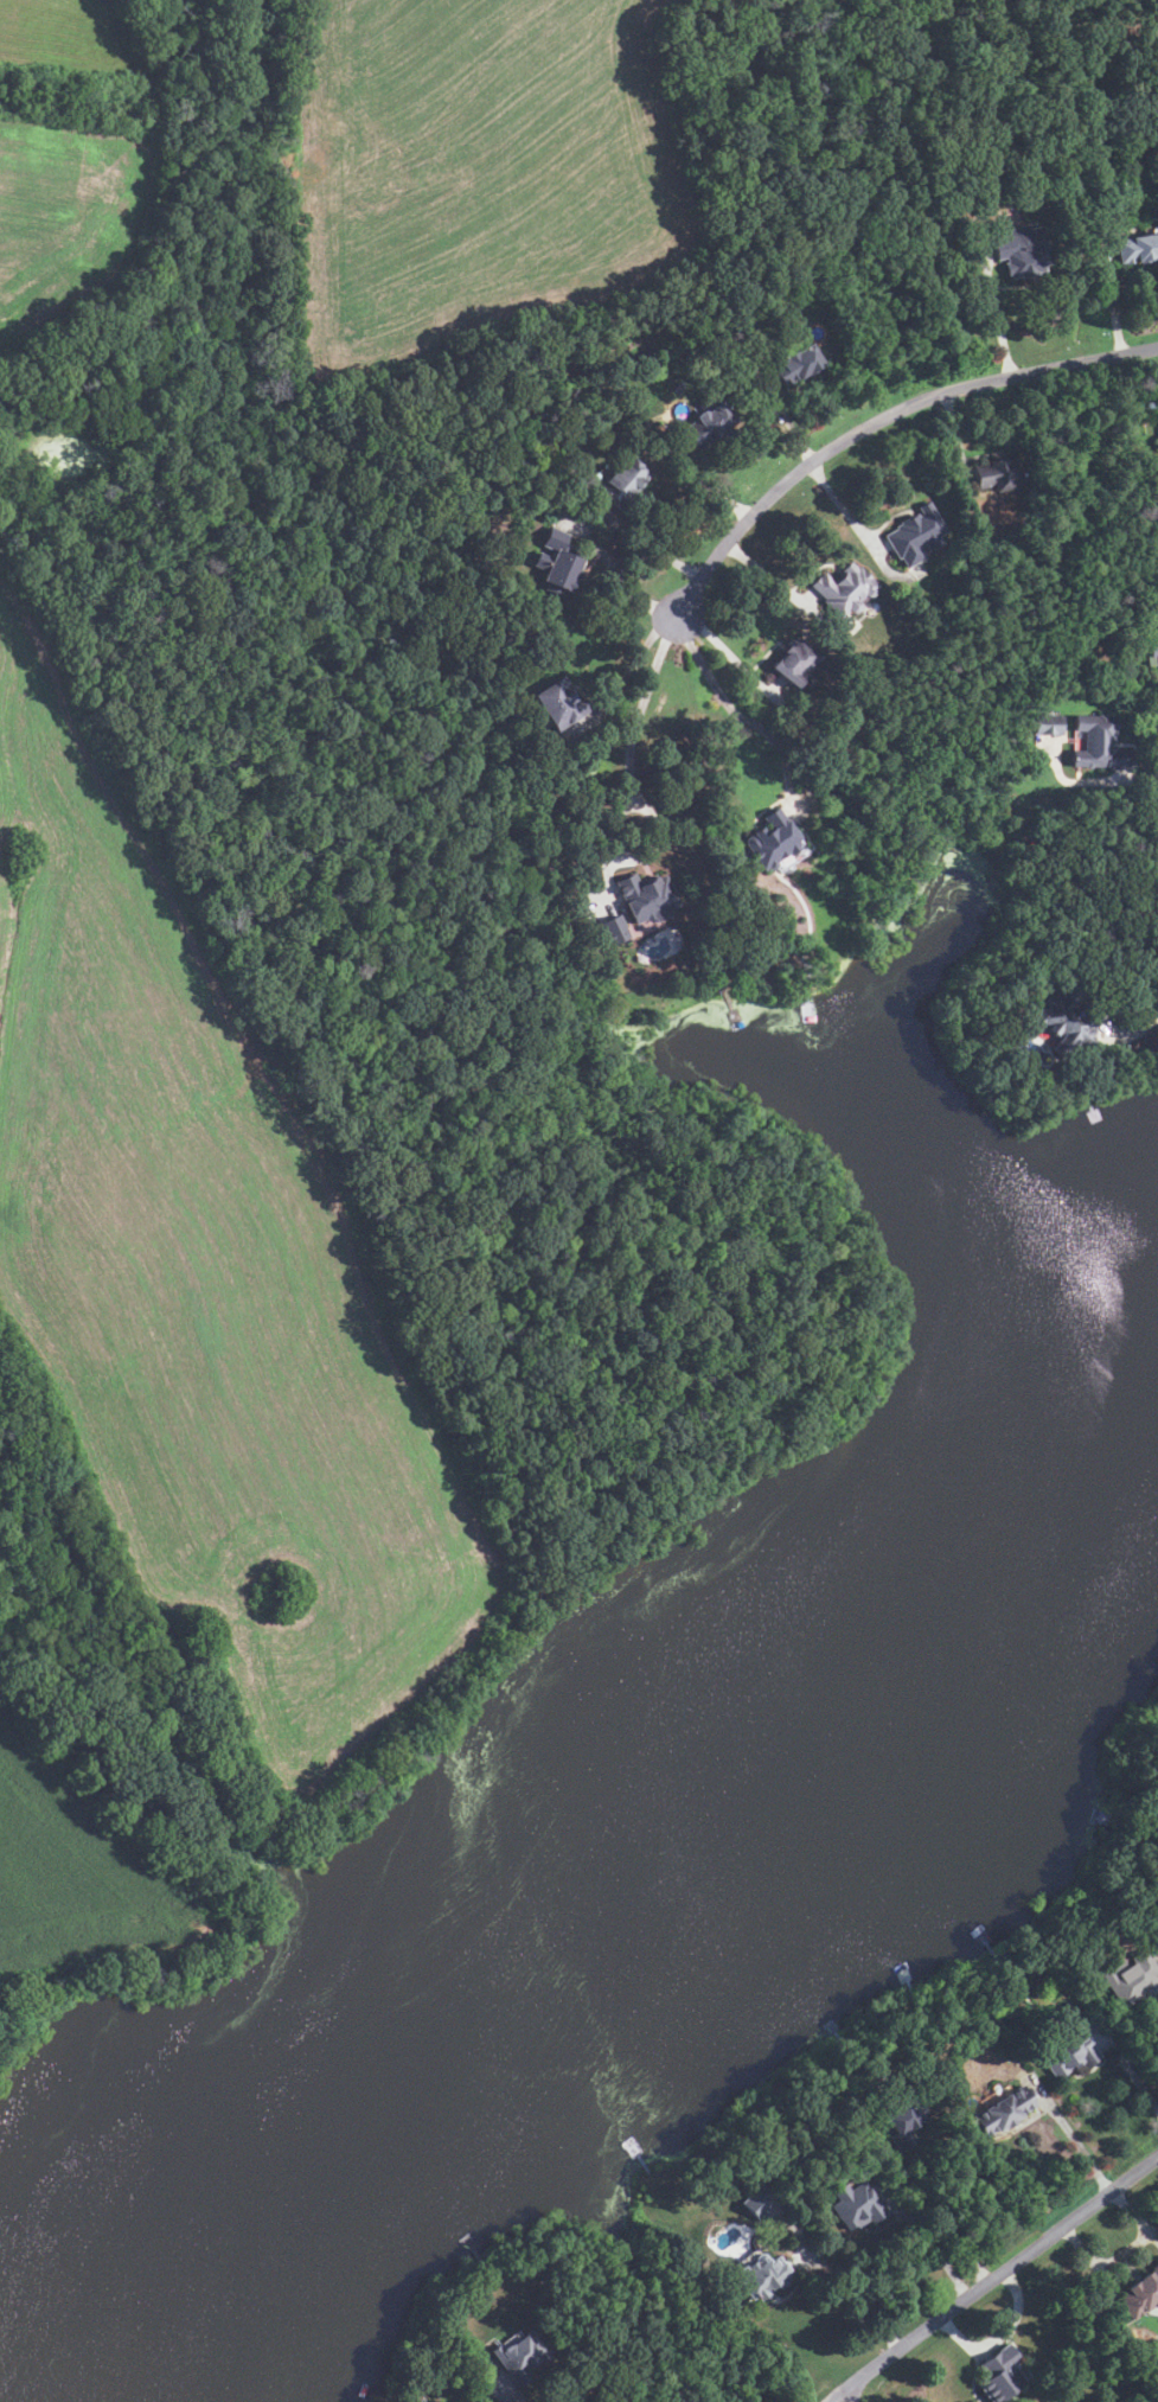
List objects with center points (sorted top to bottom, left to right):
crop: (474, 167)
building: (977, 202)
building: (1138, 247)
building: (1022, 249)
road: (1111, 301)
road: (994, 318)
building: (796, 364)
road: (882, 419)
road: (787, 423)
building: (709, 426)
road: (955, 436)
building: (997, 472)
building: (623, 481)
road: (705, 486)
road: (839, 506)
building: (916, 532)
road: (650, 544)
building: (557, 562)
road: (767, 574)
road: (619, 575)
building: (844, 589)
building: (1153, 641)
road: (727, 654)
building: (795, 662)
road: (632, 663)
building: (558, 703)
building: (1049, 724)
road: (756, 727)
building: (1100, 743)
road: (1143, 778)
road: (632, 786)
building: (770, 839)
building: (646, 896)
building: (612, 931)
road: (1156, 1020)
building: (1068, 1023)
building: (1132, 1979)
building: (1067, 2053)
road: (1131, 2070)
building: (1003, 2112)
building: (903, 2120)
road: (1073, 2136)
building: (759, 2199)
building: (855, 2205)
road: (940, 2222)
road: (934, 2247)
road: (1122, 2251)
building: (761, 2276)
road: (993, 2278)
road: (860, 2289)
building: (1141, 2294)
road: (998, 2336)
building: (523, 2355)
building: (999, 2374)

